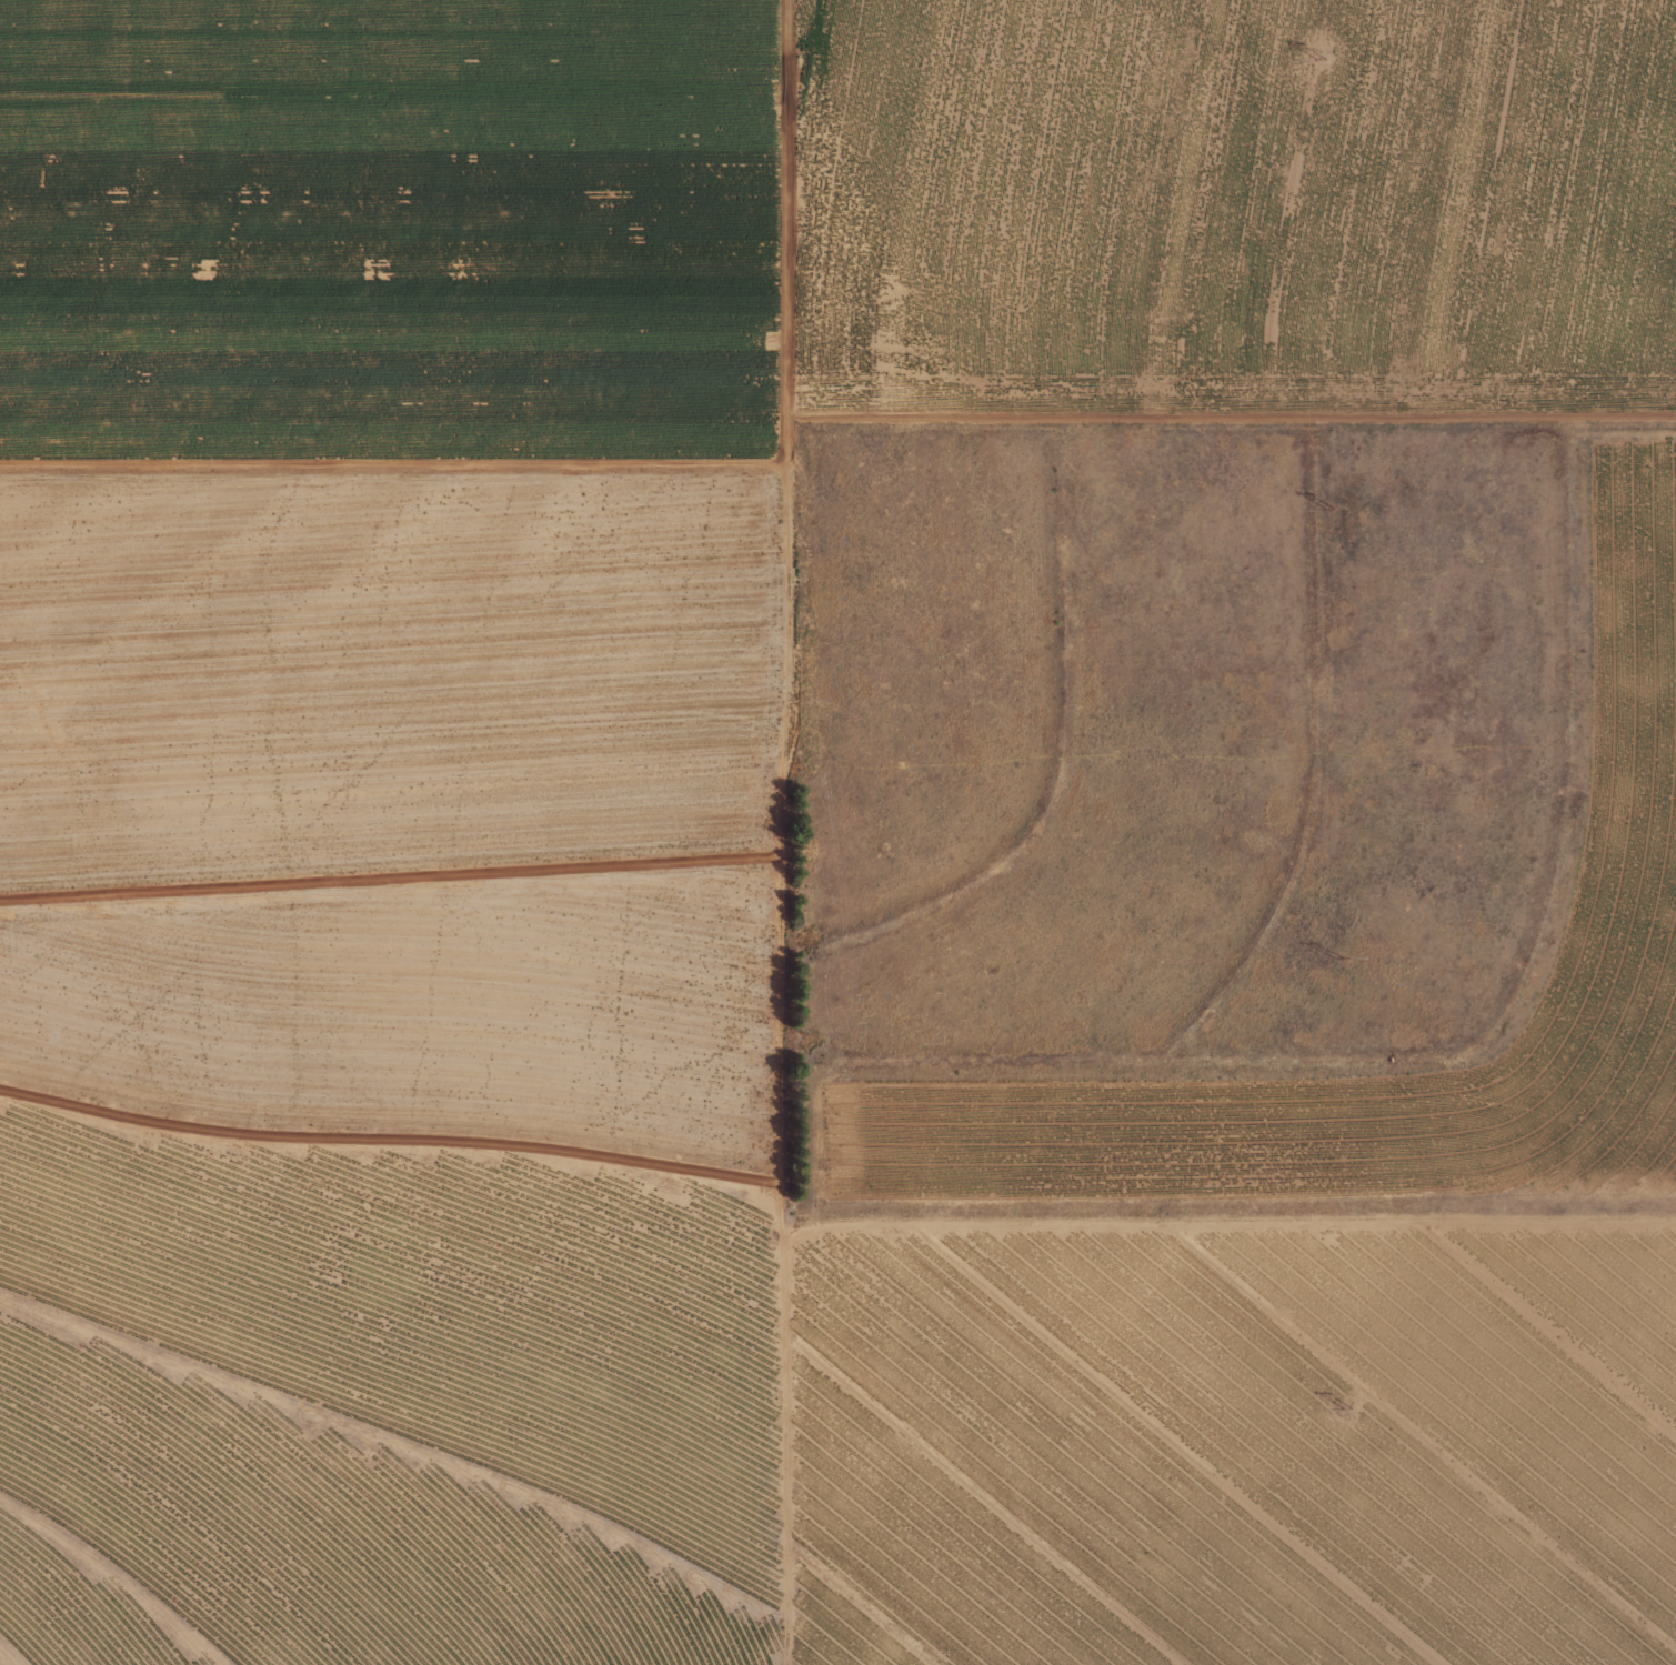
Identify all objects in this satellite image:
power tower: (1326, 56)
power tower: (1334, 508)
power tower: (1344, 957)
power tower: (1353, 1406)

